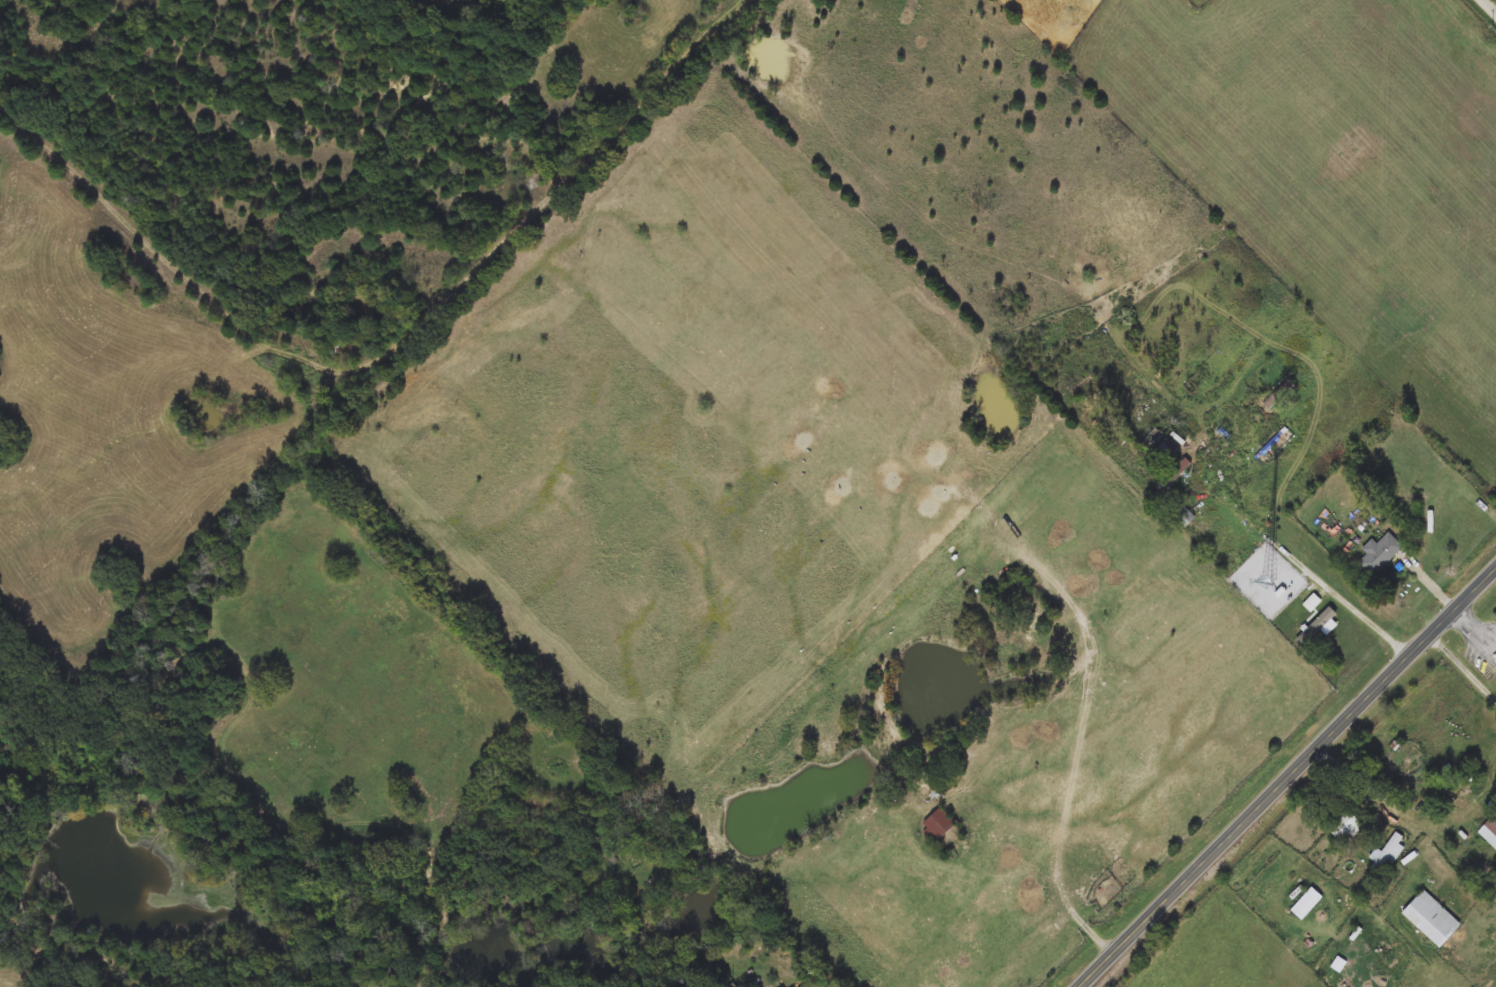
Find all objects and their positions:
road: (1490, 5)
road: (557, 186)
building: (347, 352)
building: (1279, 394)
building: (1158, 447)
building: (1174, 476)
building: (1181, 515)
road: (1287, 548)
building: (1380, 554)
road: (1434, 580)
road: (1475, 621)
building: (1315, 628)
road: (1464, 664)
road: (1291, 777)
building: (938, 825)
building: (1346, 829)
building: (1489, 831)
road: (1046, 884)
building: (1306, 904)
road: (1341, 906)
building: (1431, 919)
road: (1432, 971)

